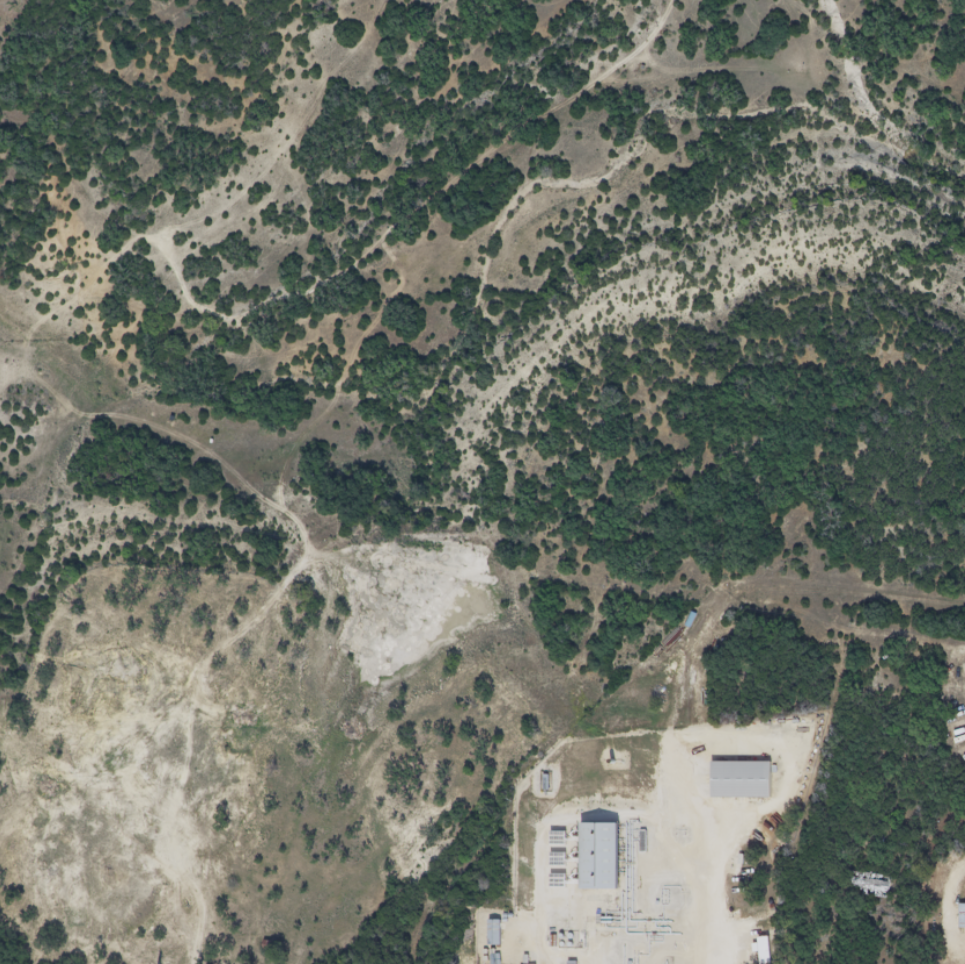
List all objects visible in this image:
road: (359, 251)
building: (740, 779)
building: (599, 856)
building: (871, 884)
building: (961, 915)
building: (493, 932)

